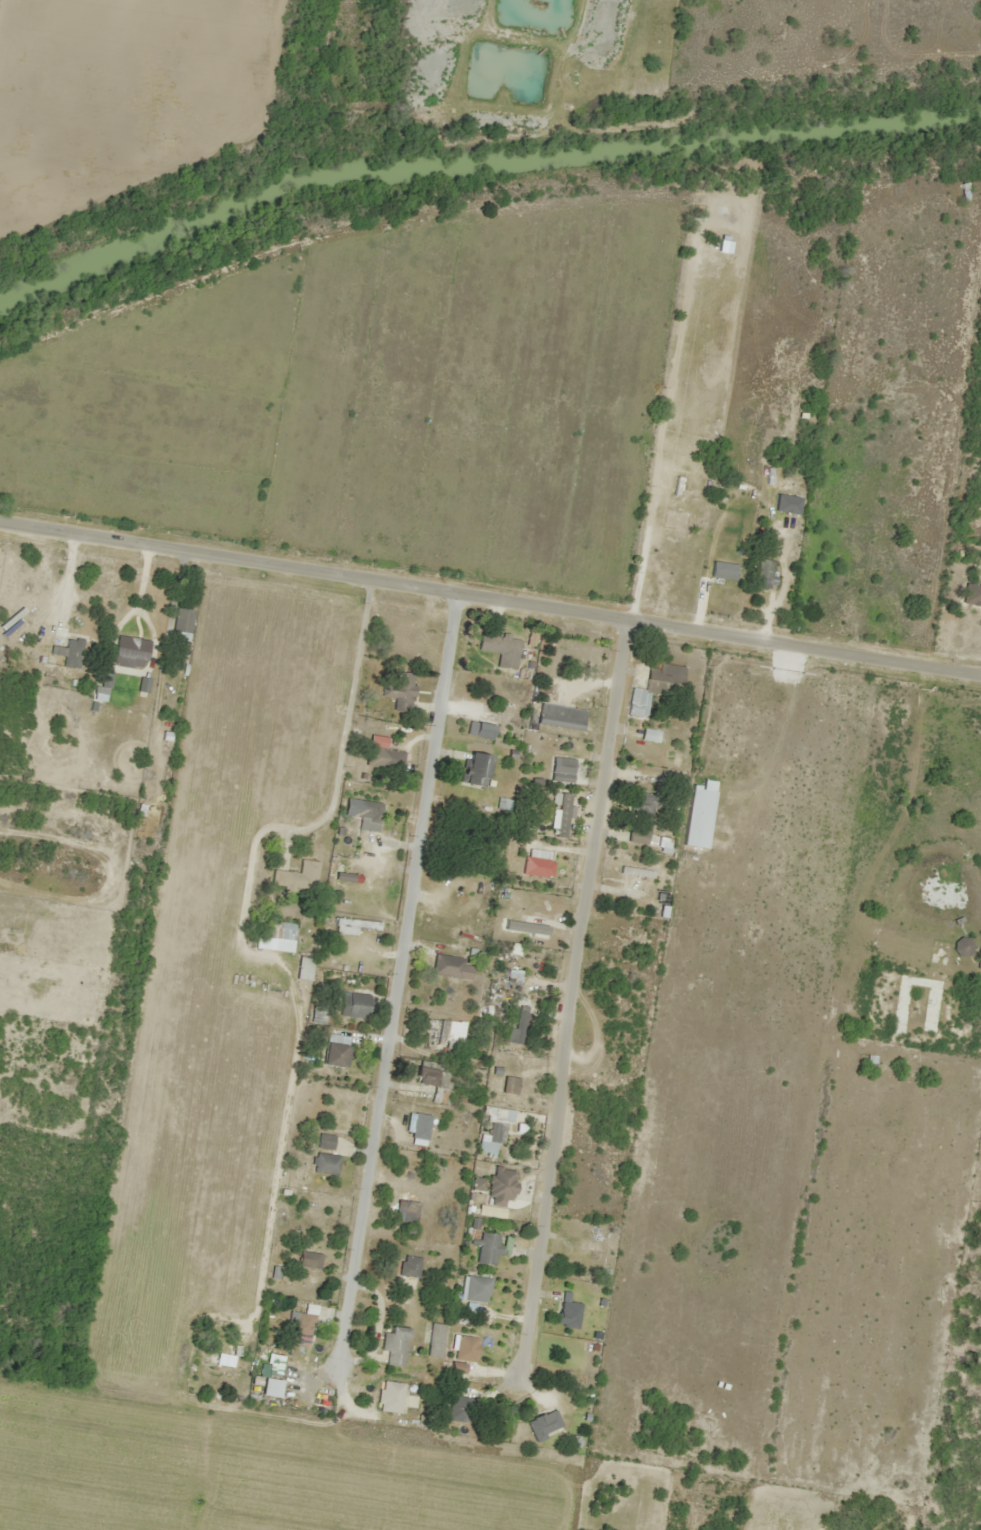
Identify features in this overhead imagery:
building: (722, 571)
building: (761, 574)
building: (971, 595)
building: (181, 620)
road: (490, 620)
building: (130, 648)
building: (499, 649)
building: (70, 653)
building: (654, 686)
building: (398, 691)
building: (559, 717)
building: (479, 731)
building: (383, 759)
building: (562, 768)
building: (474, 771)
building: (644, 803)
building: (366, 811)
building: (560, 816)
building: (637, 834)
building: (461, 840)
building: (536, 867)
building: (297, 877)
road: (593, 923)
building: (526, 926)
building: (355, 928)
building: (278, 931)
building: (960, 947)
building: (938, 953)
building: (446, 967)
building: (303, 969)
building: (512, 977)
building: (352, 1005)
building: (488, 1012)
building: (517, 1025)
building: (448, 1036)
building: (333, 1055)
road: (208, 1059)
building: (429, 1076)
building: (505, 1083)
building: (493, 1130)
building: (324, 1141)
building: (324, 1164)
building: (500, 1185)
building: (489, 1248)
building: (584, 1250)
building: (307, 1260)
building: (409, 1271)
building: (473, 1286)
building: (568, 1313)
building: (303, 1321)
building: (434, 1340)
building: (394, 1346)
building: (221, 1358)
building: (274, 1365)
building: (389, 1397)
building: (458, 1409)
building: (539, 1426)

